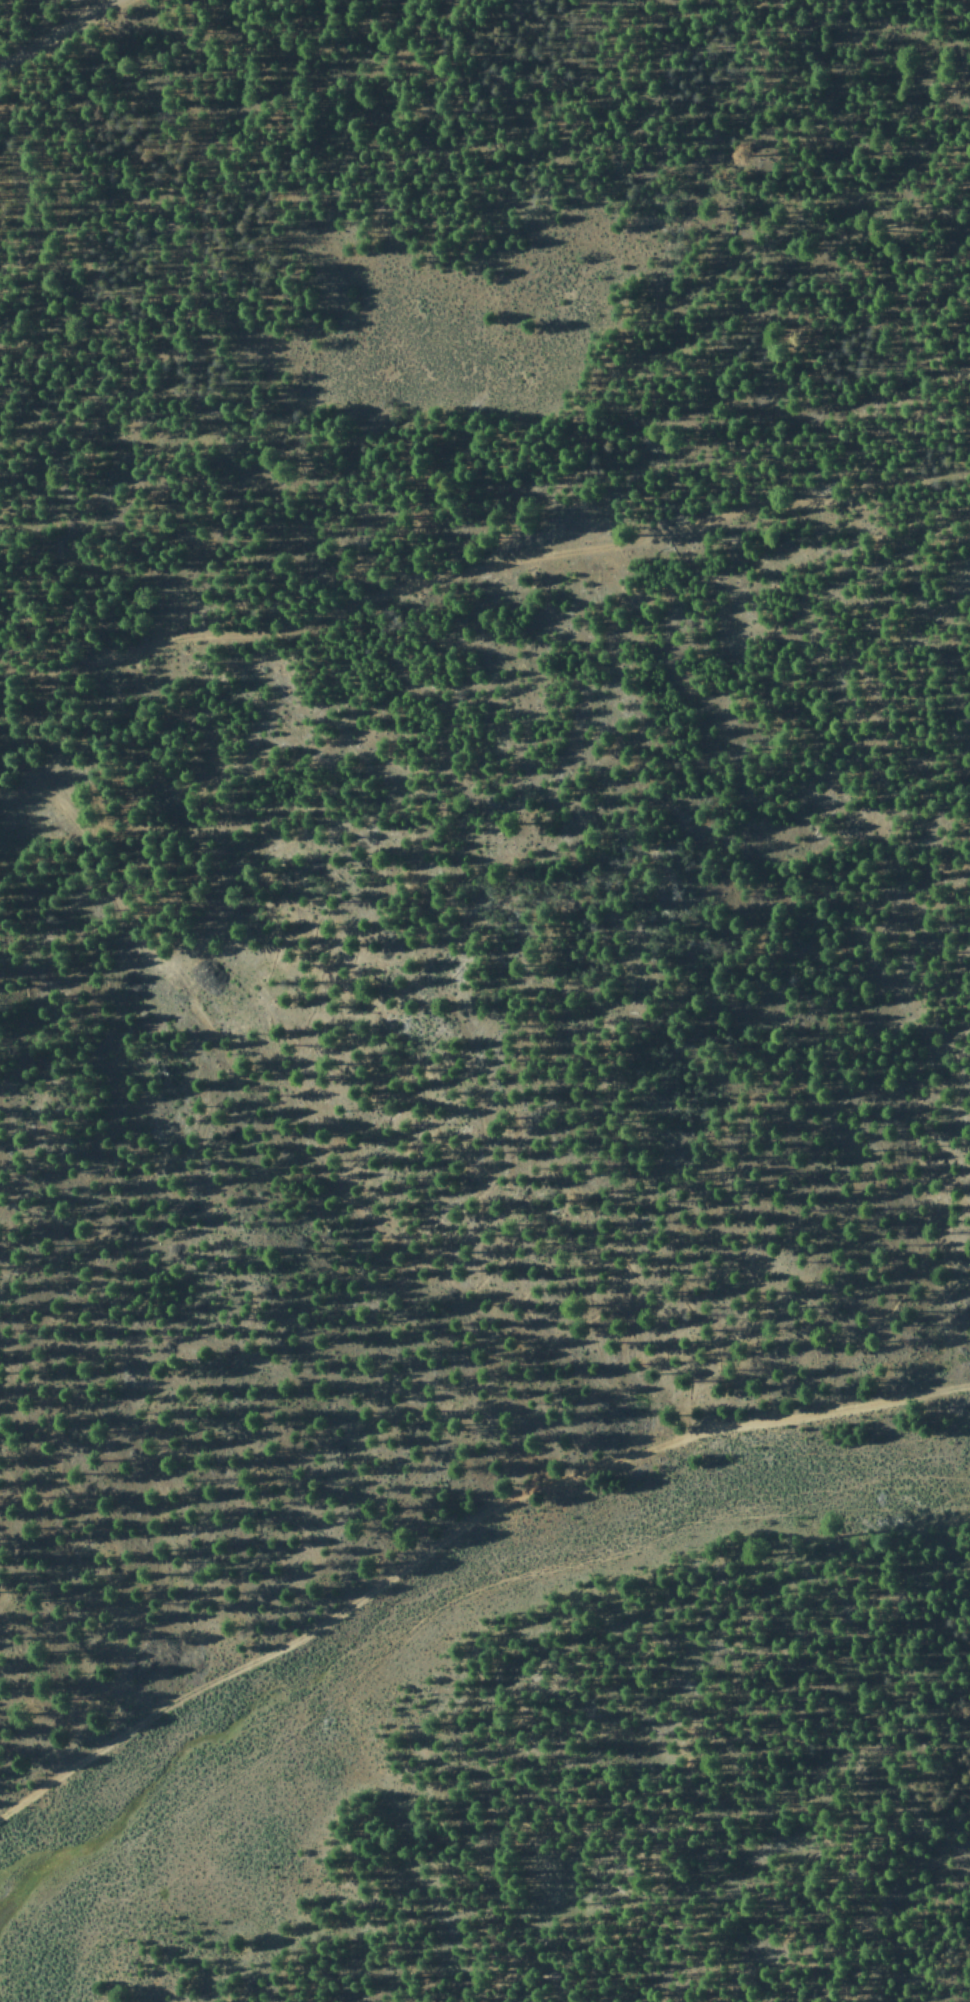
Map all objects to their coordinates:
road: (51, 25)
road: (531, 1680)

